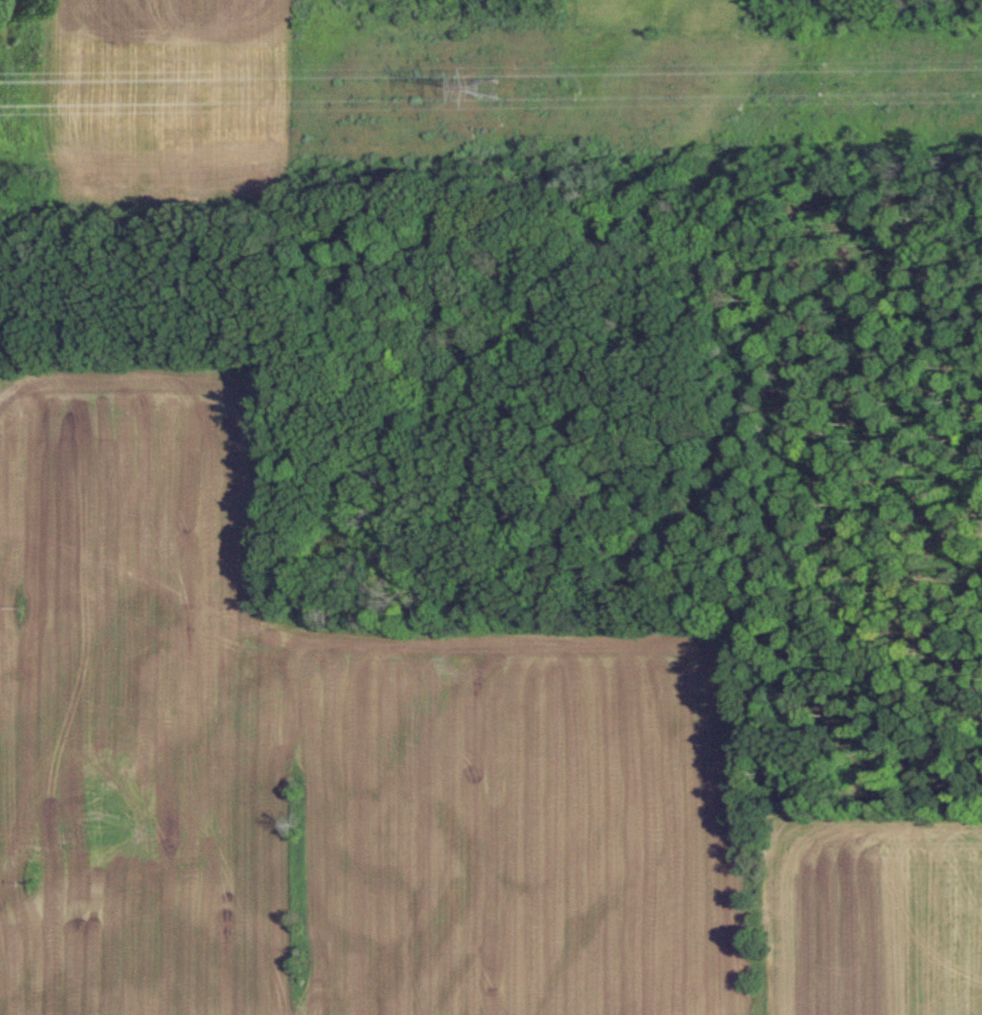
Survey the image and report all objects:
power tower: (486, 86)
crop: (324, 760)
crop: (882, 917)

